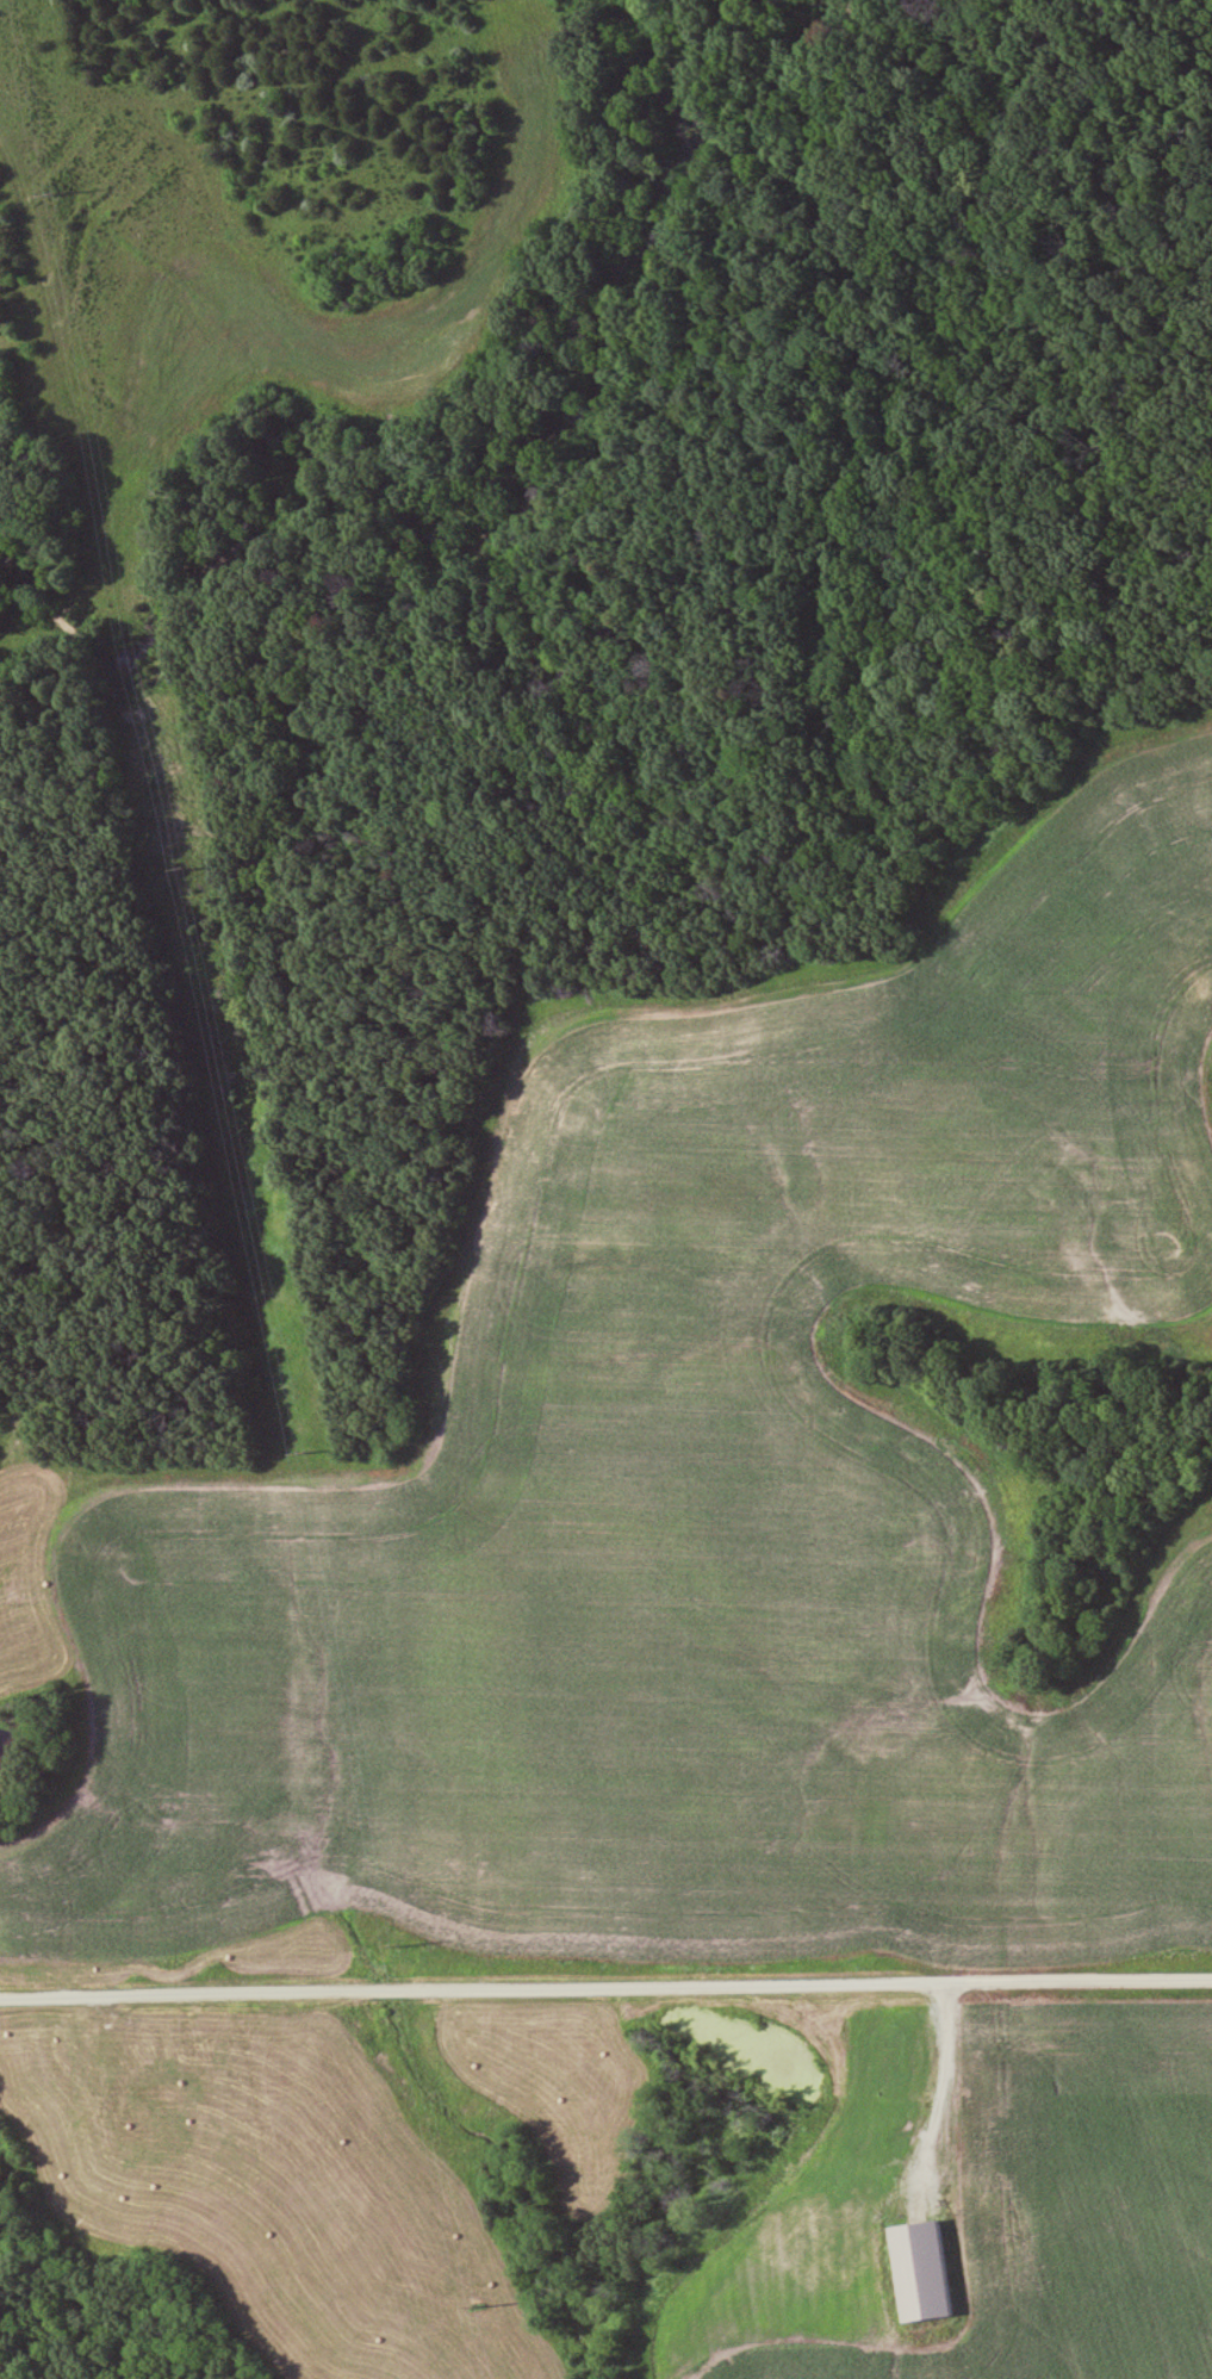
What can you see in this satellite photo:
building: (12, 1436)
power tower: (397, 1944)
road: (605, 1989)
building: (106, 2060)
building: (215, 2064)
building: (147, 2077)
road: (950, 2130)
building: (151, 2148)
building: (864, 2266)
power tower: (474, 2303)

